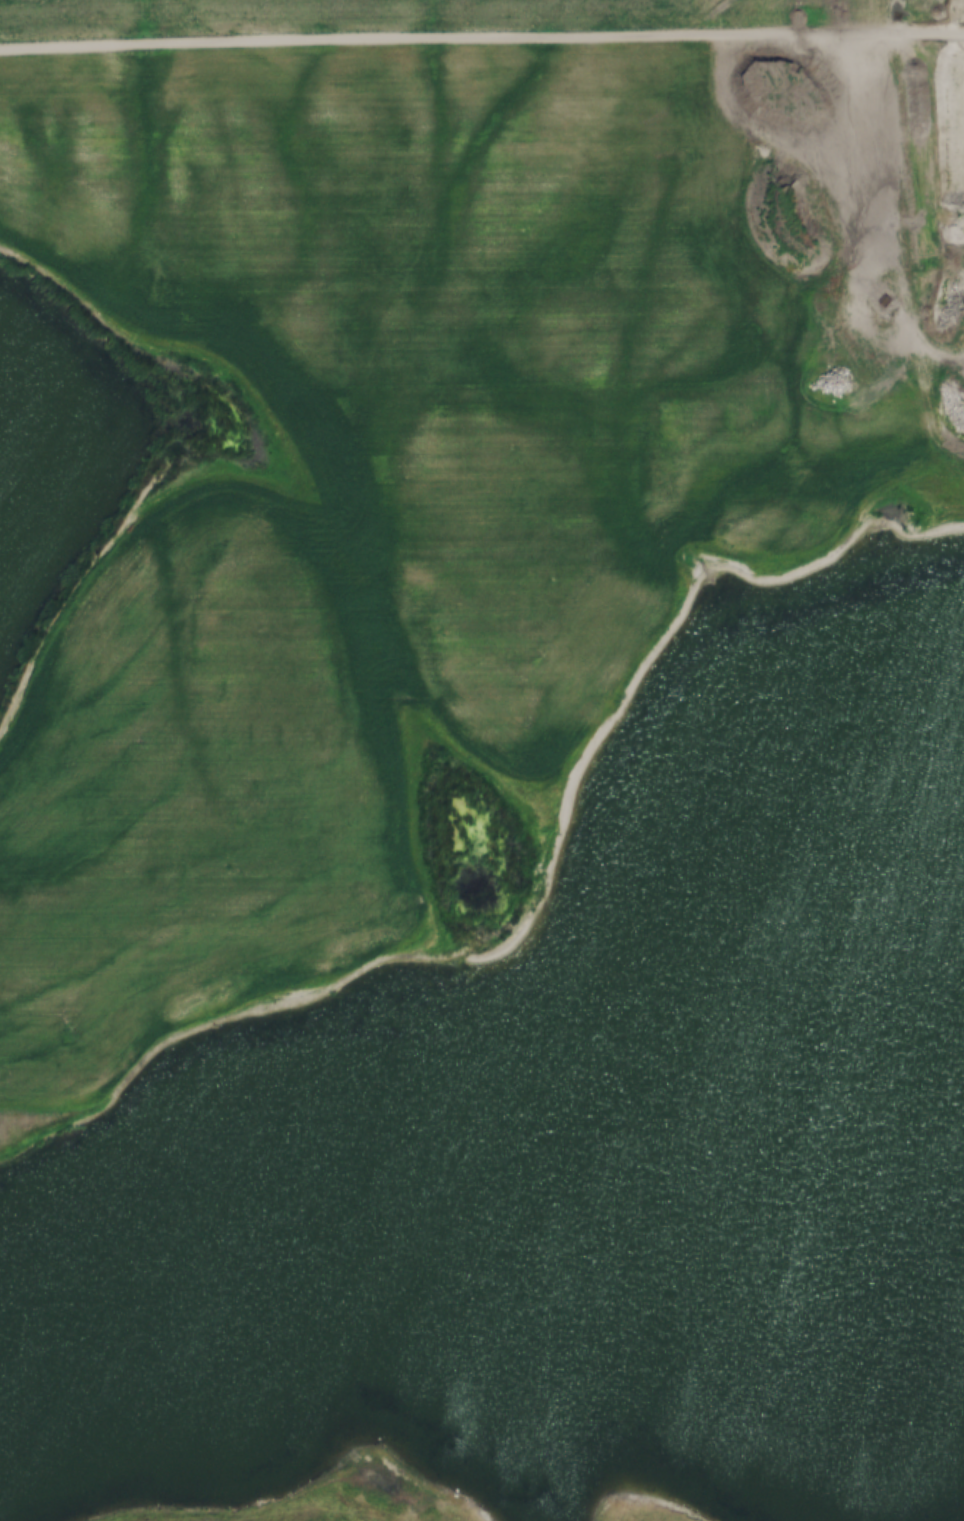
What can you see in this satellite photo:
road: (477, 36)
quarry: (963, 175)

